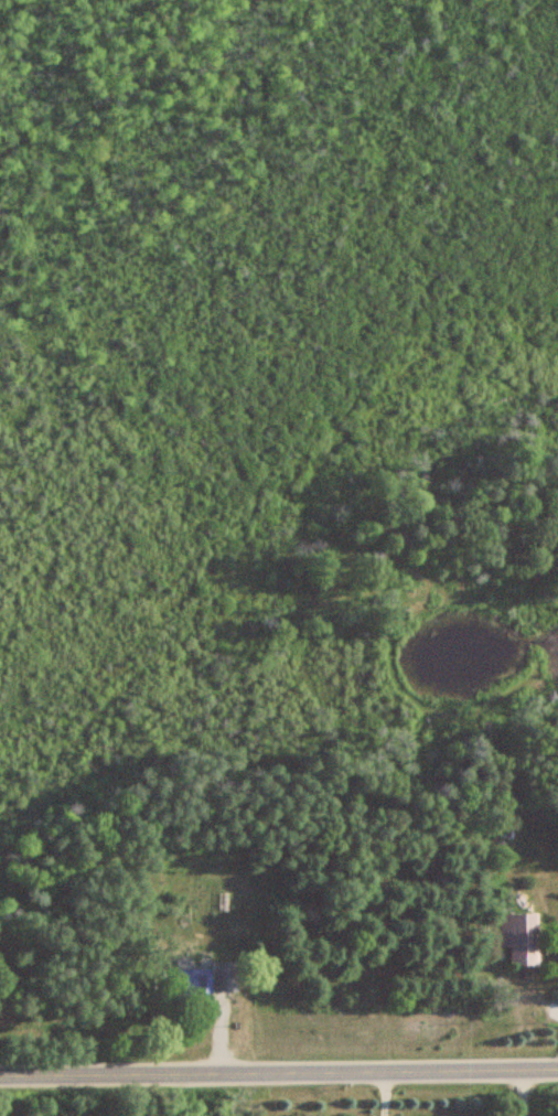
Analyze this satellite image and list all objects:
building: (518, 937)
building: (206, 980)
road: (279, 1043)

